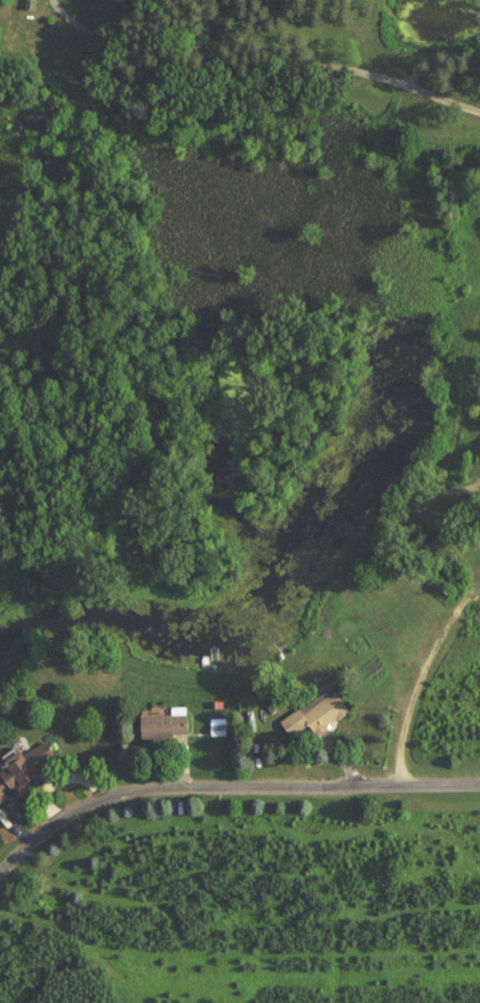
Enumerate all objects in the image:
road: (409, 704)
building: (321, 716)
building: (170, 728)
building: (28, 773)
road: (226, 789)

